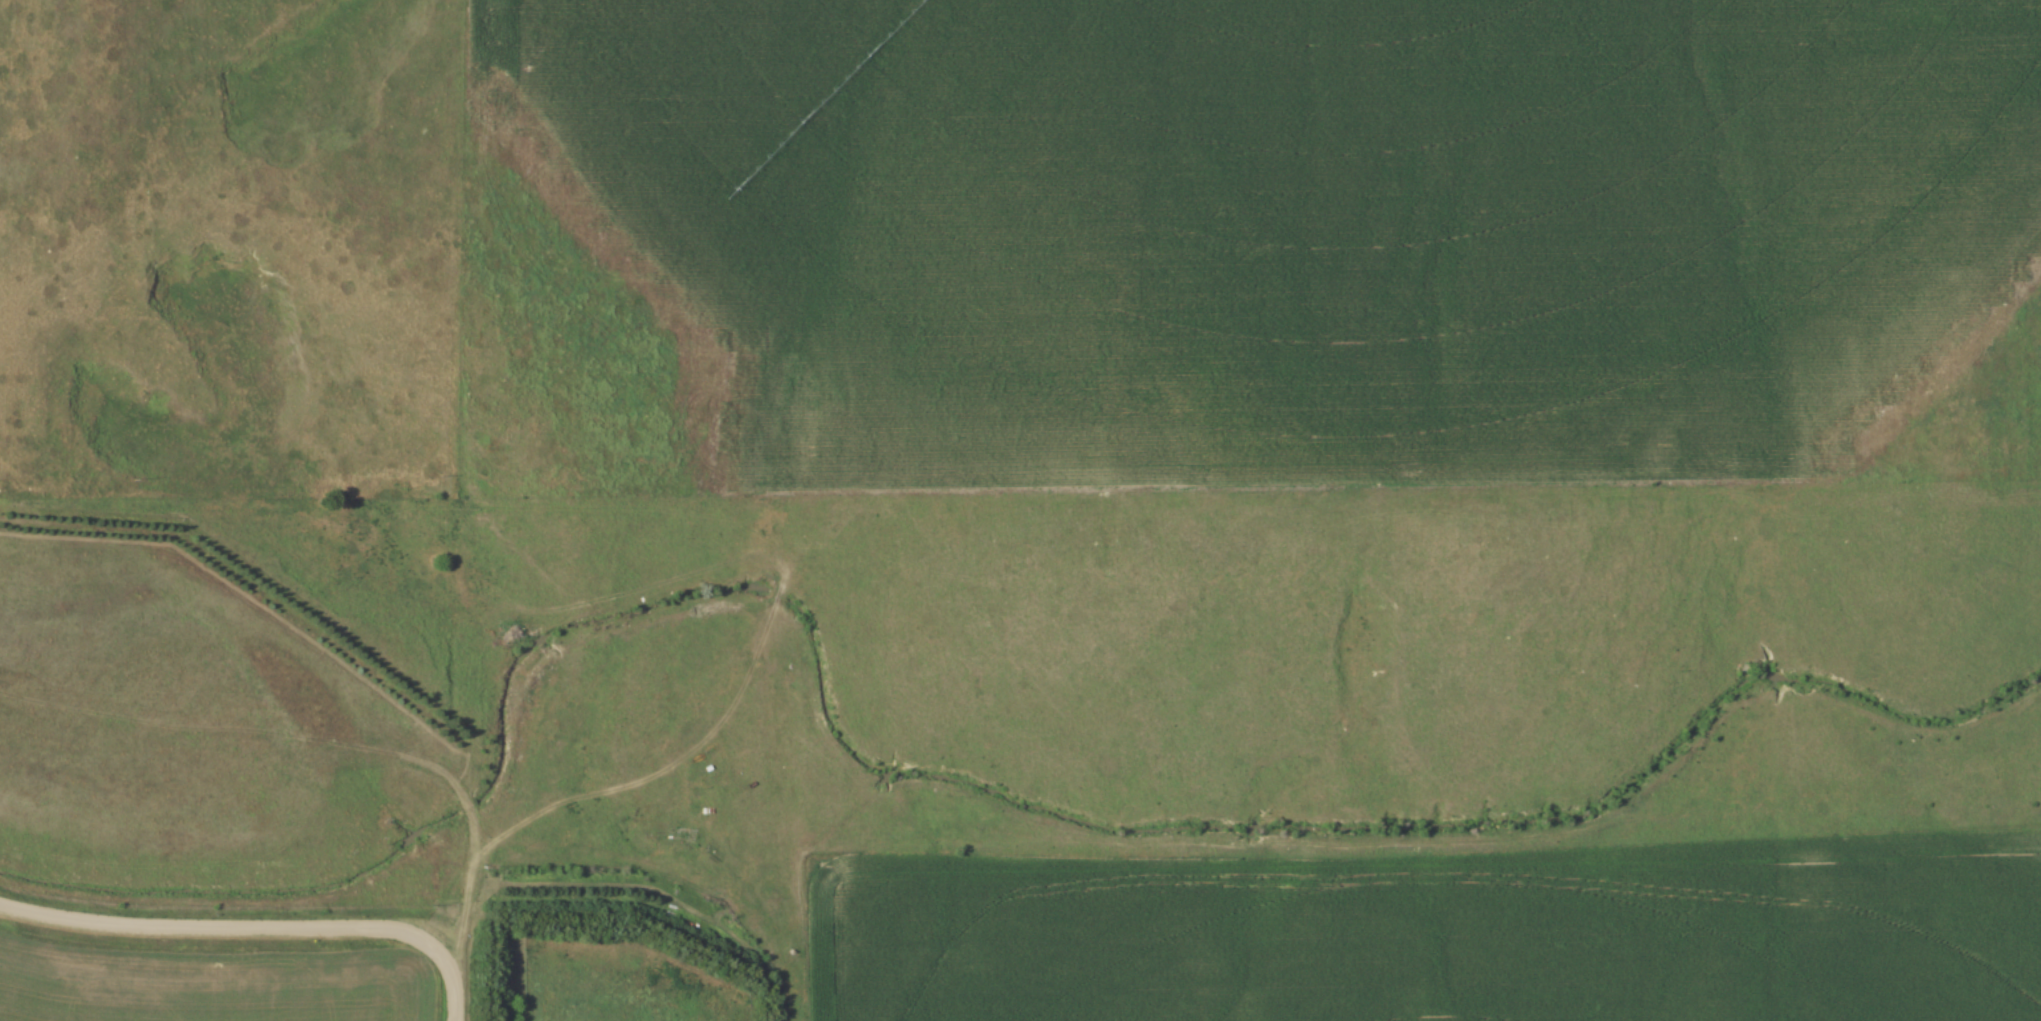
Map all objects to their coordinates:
road: (237, 927)
road: (449, 1003)

